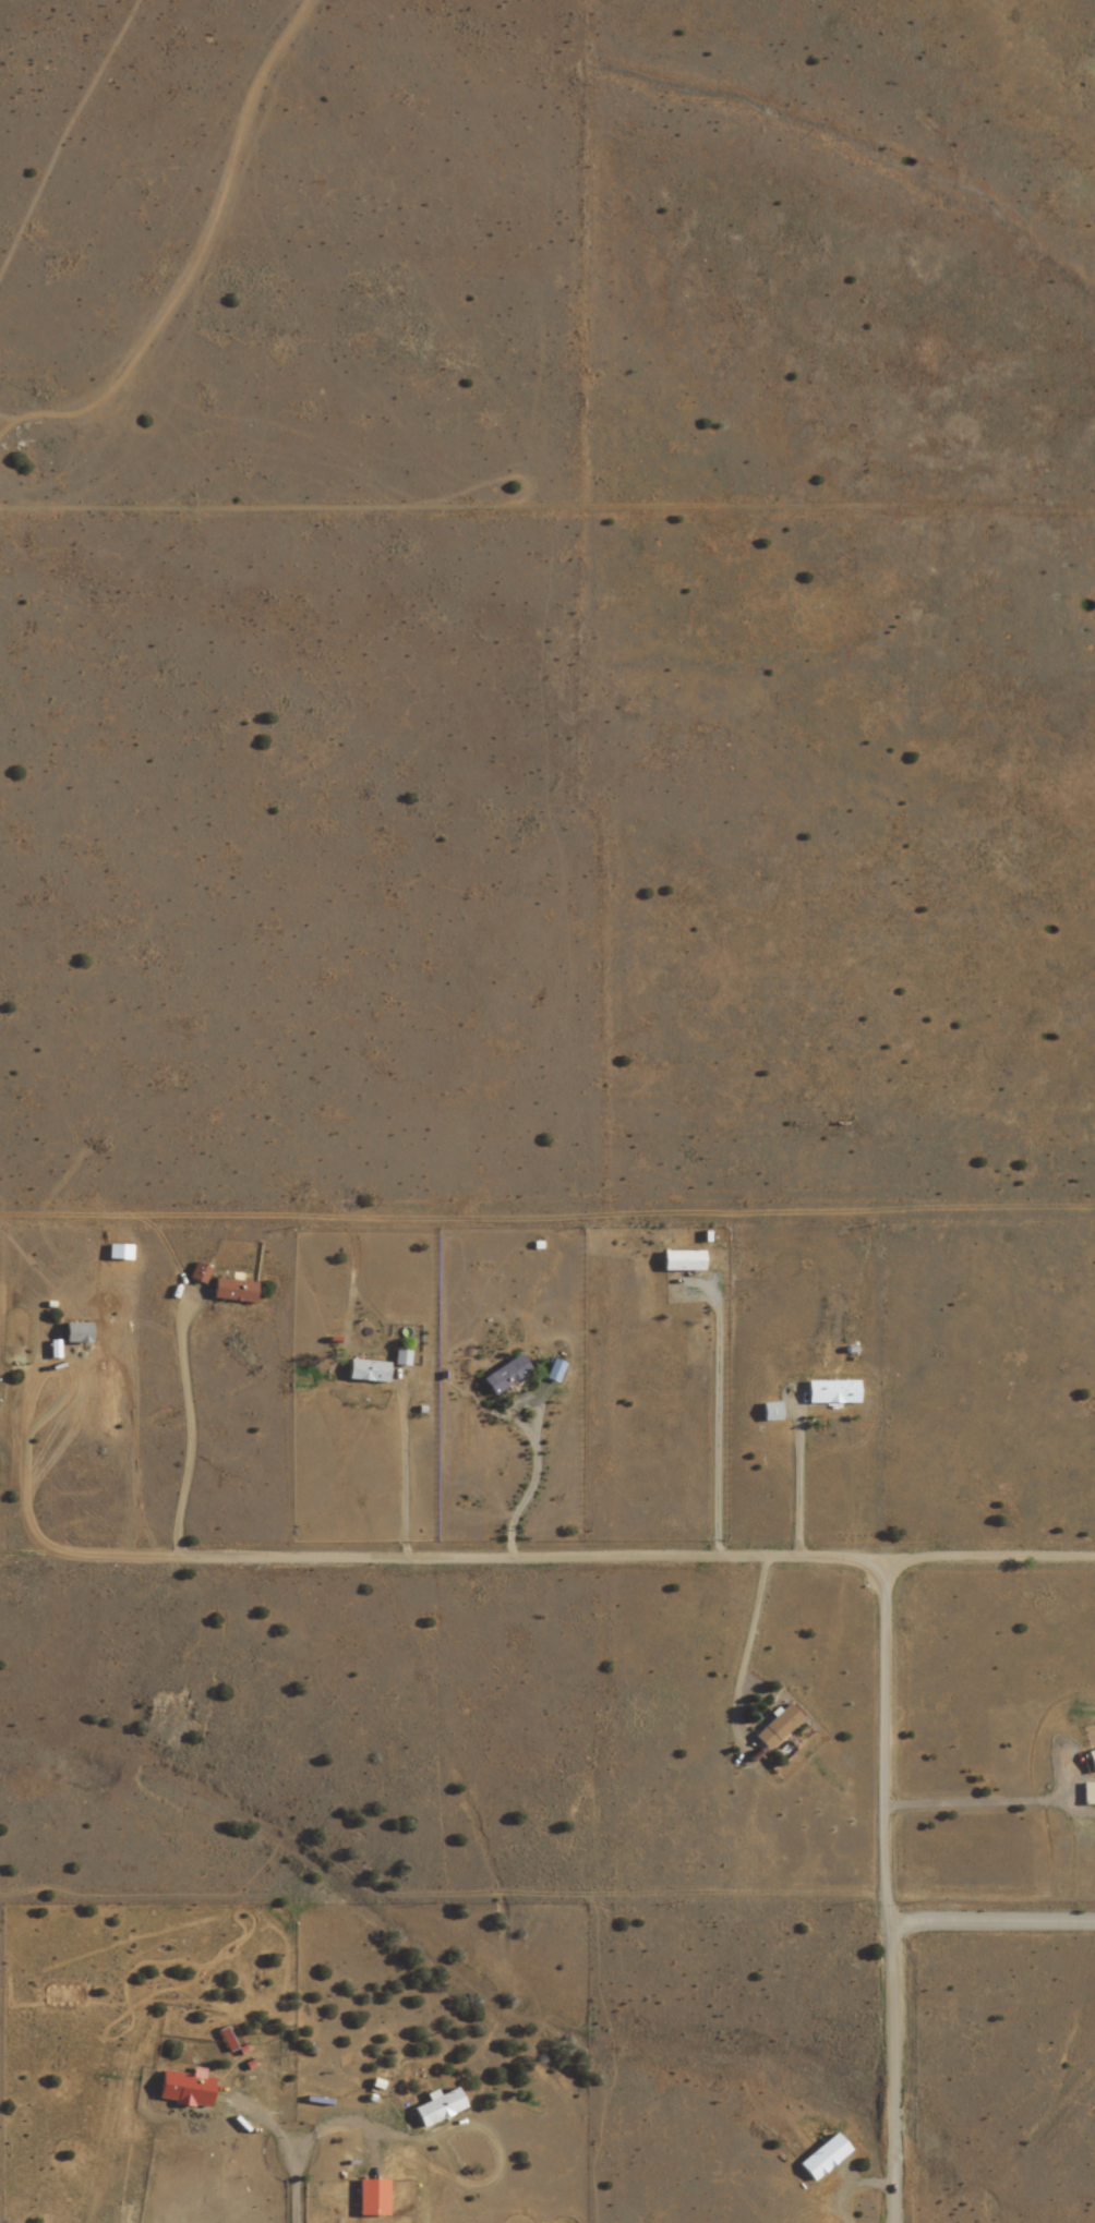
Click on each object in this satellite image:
building: (681, 1262)
building: (201, 1277)
building: (232, 1293)
building: (400, 1360)
building: (366, 1373)
building: (505, 1377)
building: (831, 1394)
road: (453, 1559)
road: (989, 1560)
building: (777, 1729)
building: (1091, 1761)
building: (1088, 1795)
road: (886, 1892)
road: (990, 1923)
building: (182, 2089)
building: (436, 2110)
building: (823, 2159)
building: (371, 2199)

